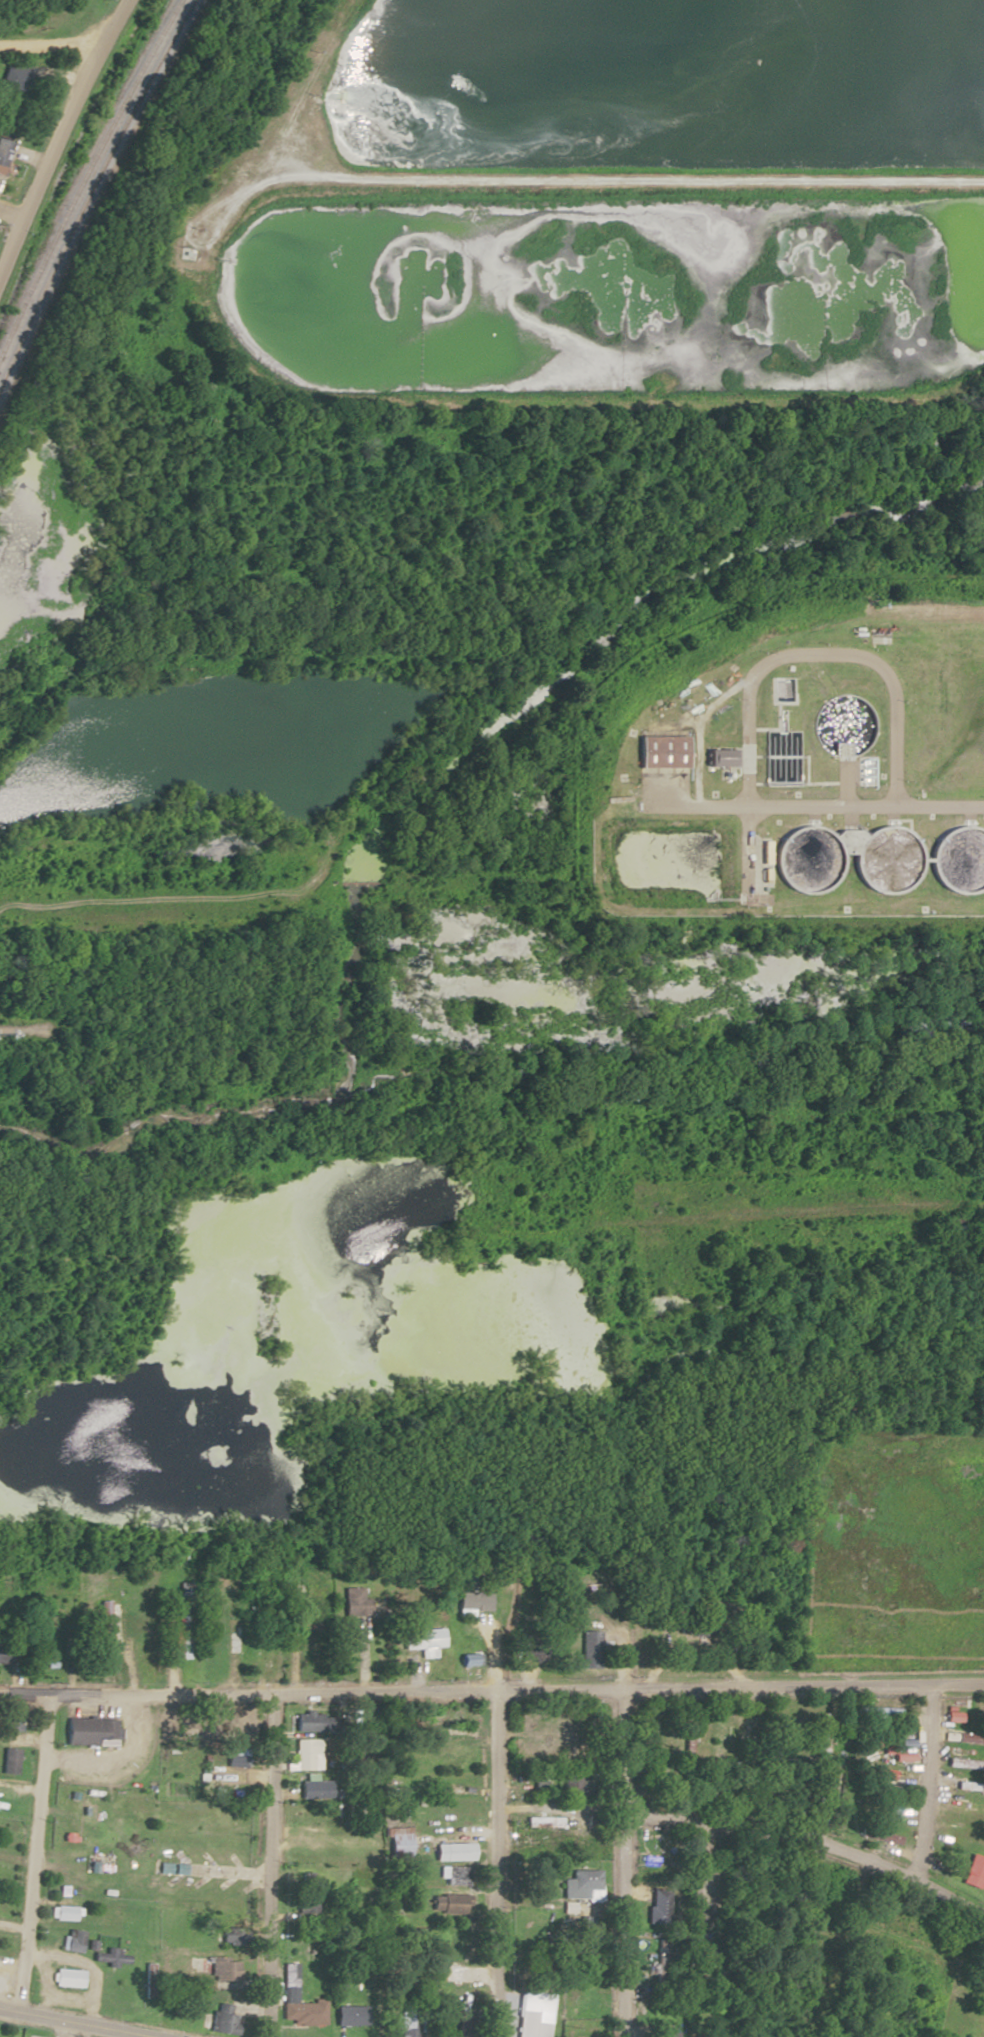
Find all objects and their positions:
road: (50, 45)
building: (16, 76)
building: (6, 131)
road: (59, 136)
building: (3, 153)
railway: (87, 173)
railway: (92, 186)
road: (12, 216)
building: (972, 673)
building: (970, 751)
building: (662, 752)
wastewater plant: (798, 765)
road: (707, 796)
building: (959, 847)
road: (738, 1216)
building: (953, 1234)
building: (355, 1602)
building: (106, 1624)
building: (423, 1641)
building: (588, 1651)
building: (5, 1653)
building: (532, 1655)
building: (262, 1656)
road: (492, 1689)
building: (970, 1711)
building: (879, 1712)
building: (442, 1716)
building: (13, 1717)
building: (310, 1721)
building: (91, 1731)
building: (648, 1738)
building: (688, 1739)
building: (717, 1741)
building: (308, 1753)
building: (236, 1757)
building: (10, 1760)
building: (966, 1764)
building: (880, 1772)
road: (926, 1781)
building: (970, 1786)
building: (315, 1788)
building: (964, 1807)
building: (220, 1816)
building: (311, 1816)
building: (542, 1820)
building: (881, 1836)
building: (970, 1836)
road: (626, 1839)
building: (398, 1843)
road: (811, 1846)
building: (584, 1847)
road: (28, 1851)
building: (453, 1851)
road: (496, 1863)
road: (271, 1864)
road: (213, 1872)
building: (974, 1872)
building: (457, 1875)
building: (586, 1879)
building: (446, 1903)
building: (659, 1905)
building: (64, 1912)
building: (73, 1940)
building: (220, 1967)
building: (448, 1972)
building: (69, 1977)
building: (299, 2001)
building: (350, 2015)
building: (225, 2019)
road: (75, 2023)
building: (406, 2023)
building: (532, 2023)
road: (58, 2028)
building: (663, 2033)

